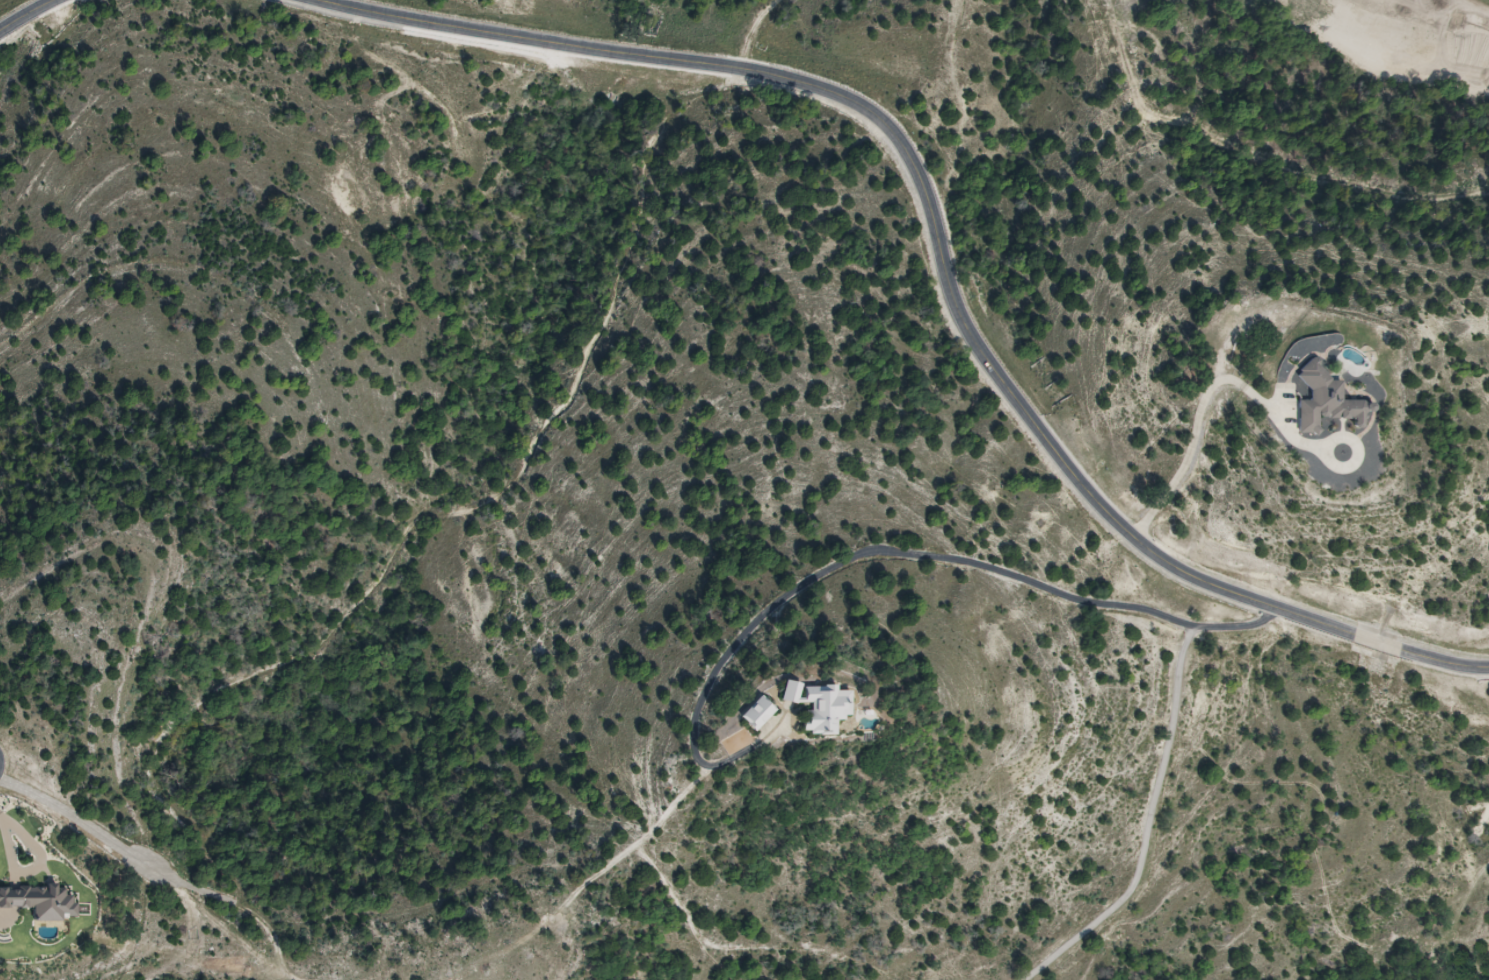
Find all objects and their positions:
road: (15, 10)
road: (945, 260)
road: (1214, 396)
building: (1328, 401)
road: (854, 556)
building: (814, 705)
building: (752, 713)
road: (1159, 786)

